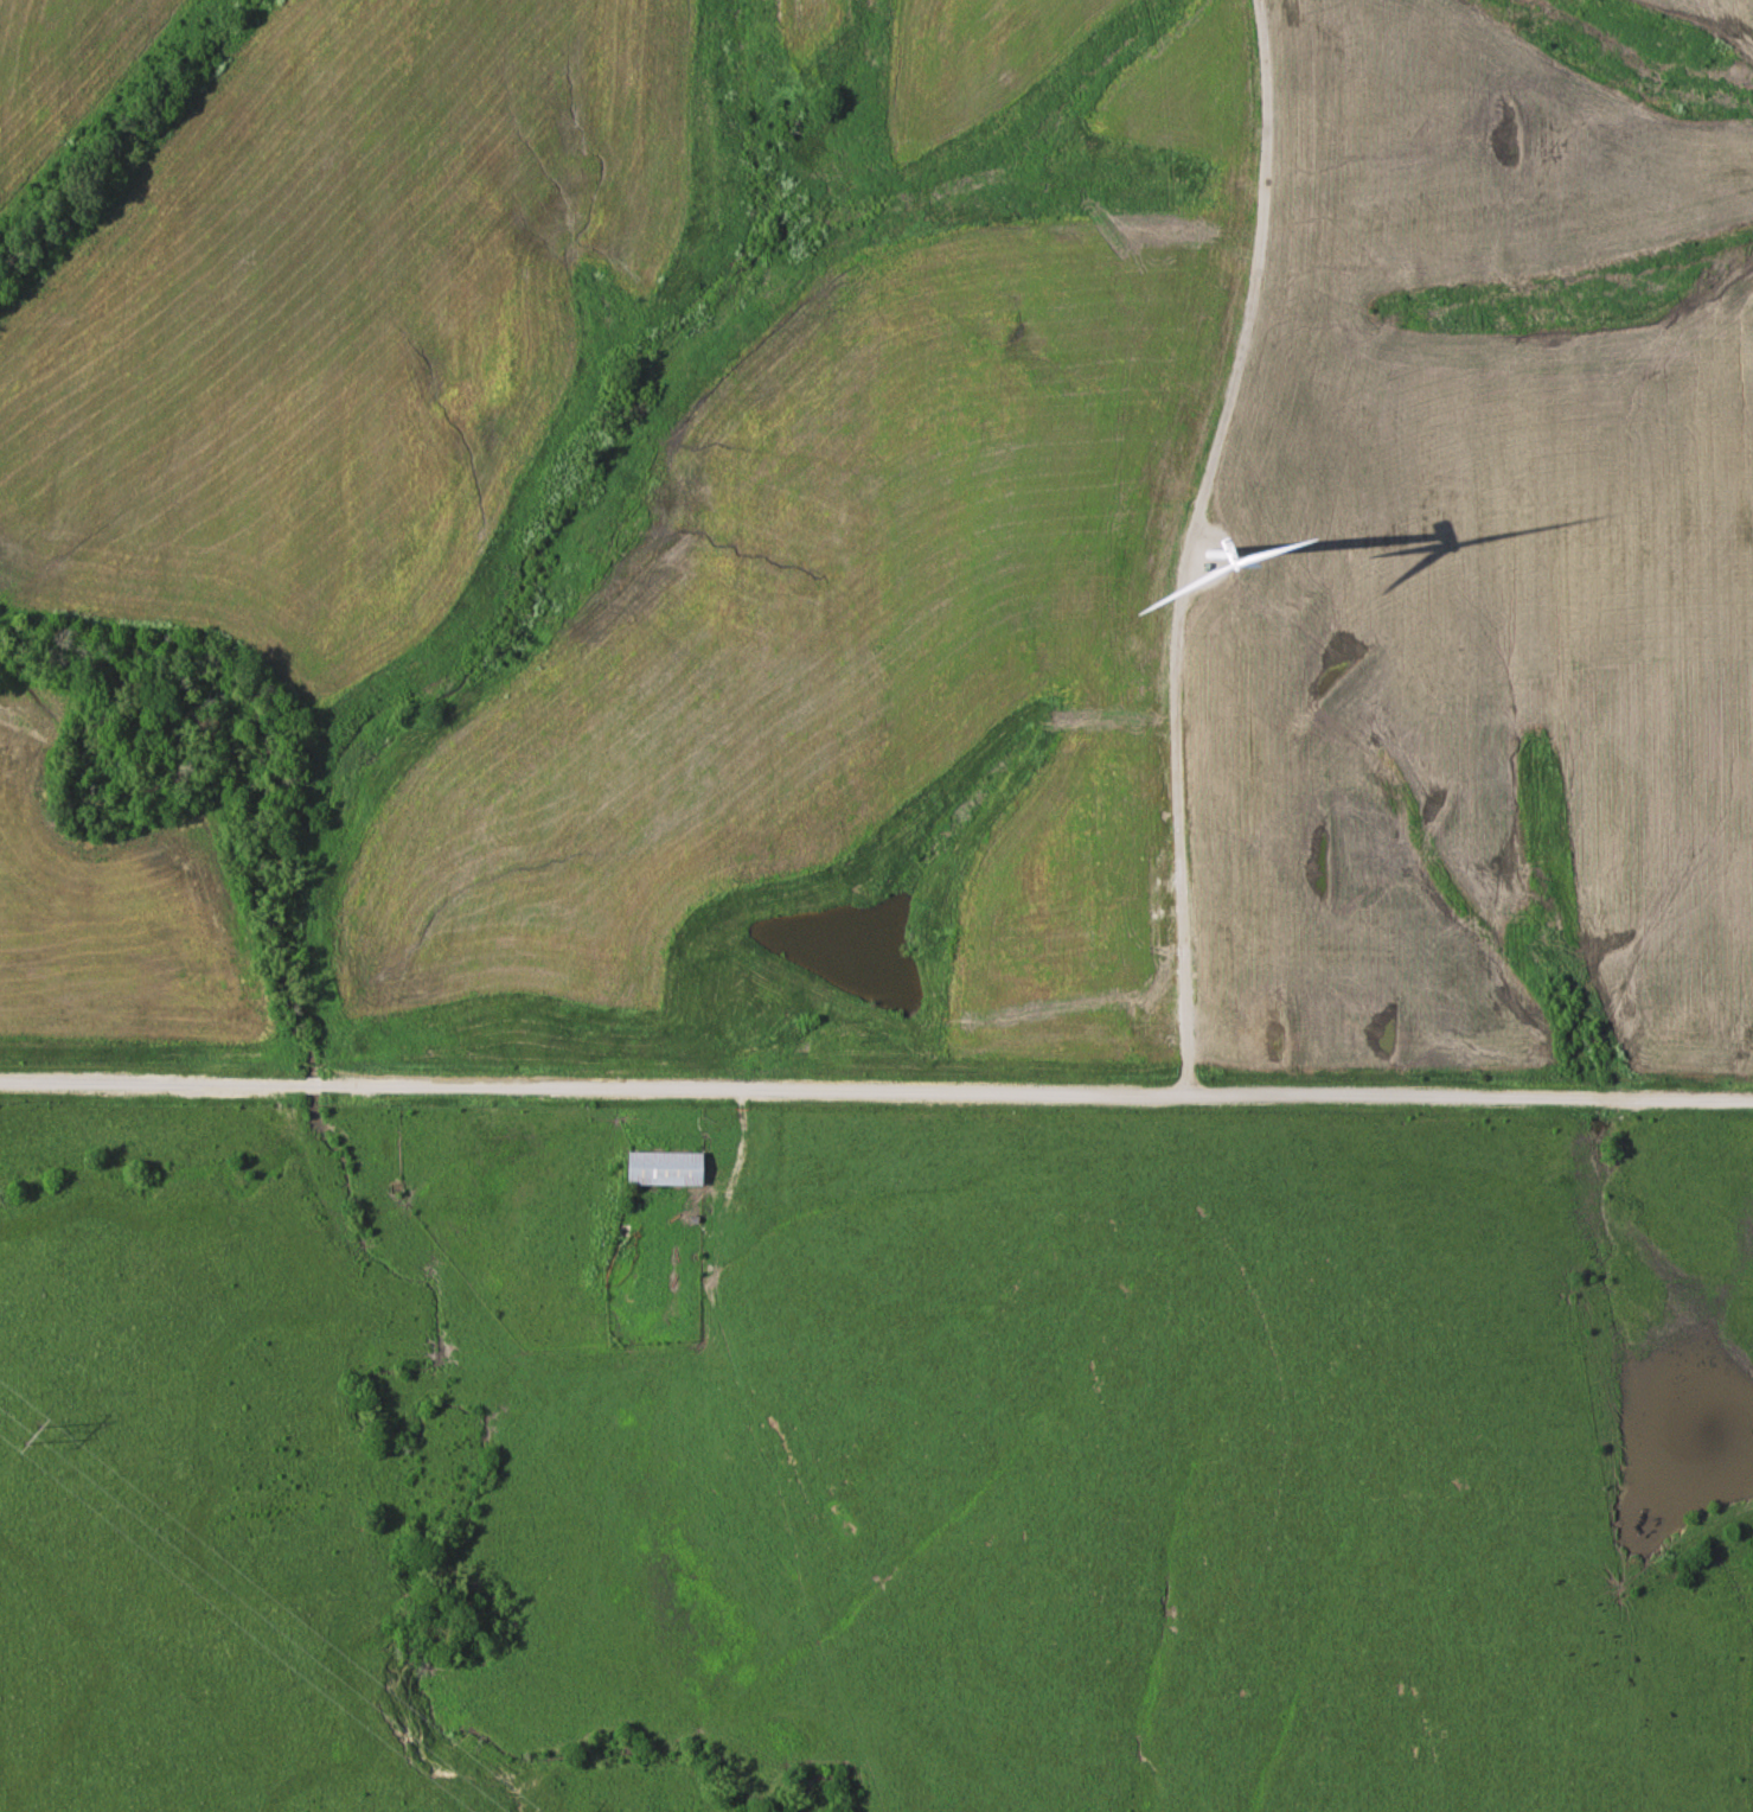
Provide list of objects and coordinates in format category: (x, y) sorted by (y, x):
road: (1191, 543)
wind turbine: (1214, 556)
road: (876, 1090)
building: (658, 1168)
power tower: (46, 1438)

